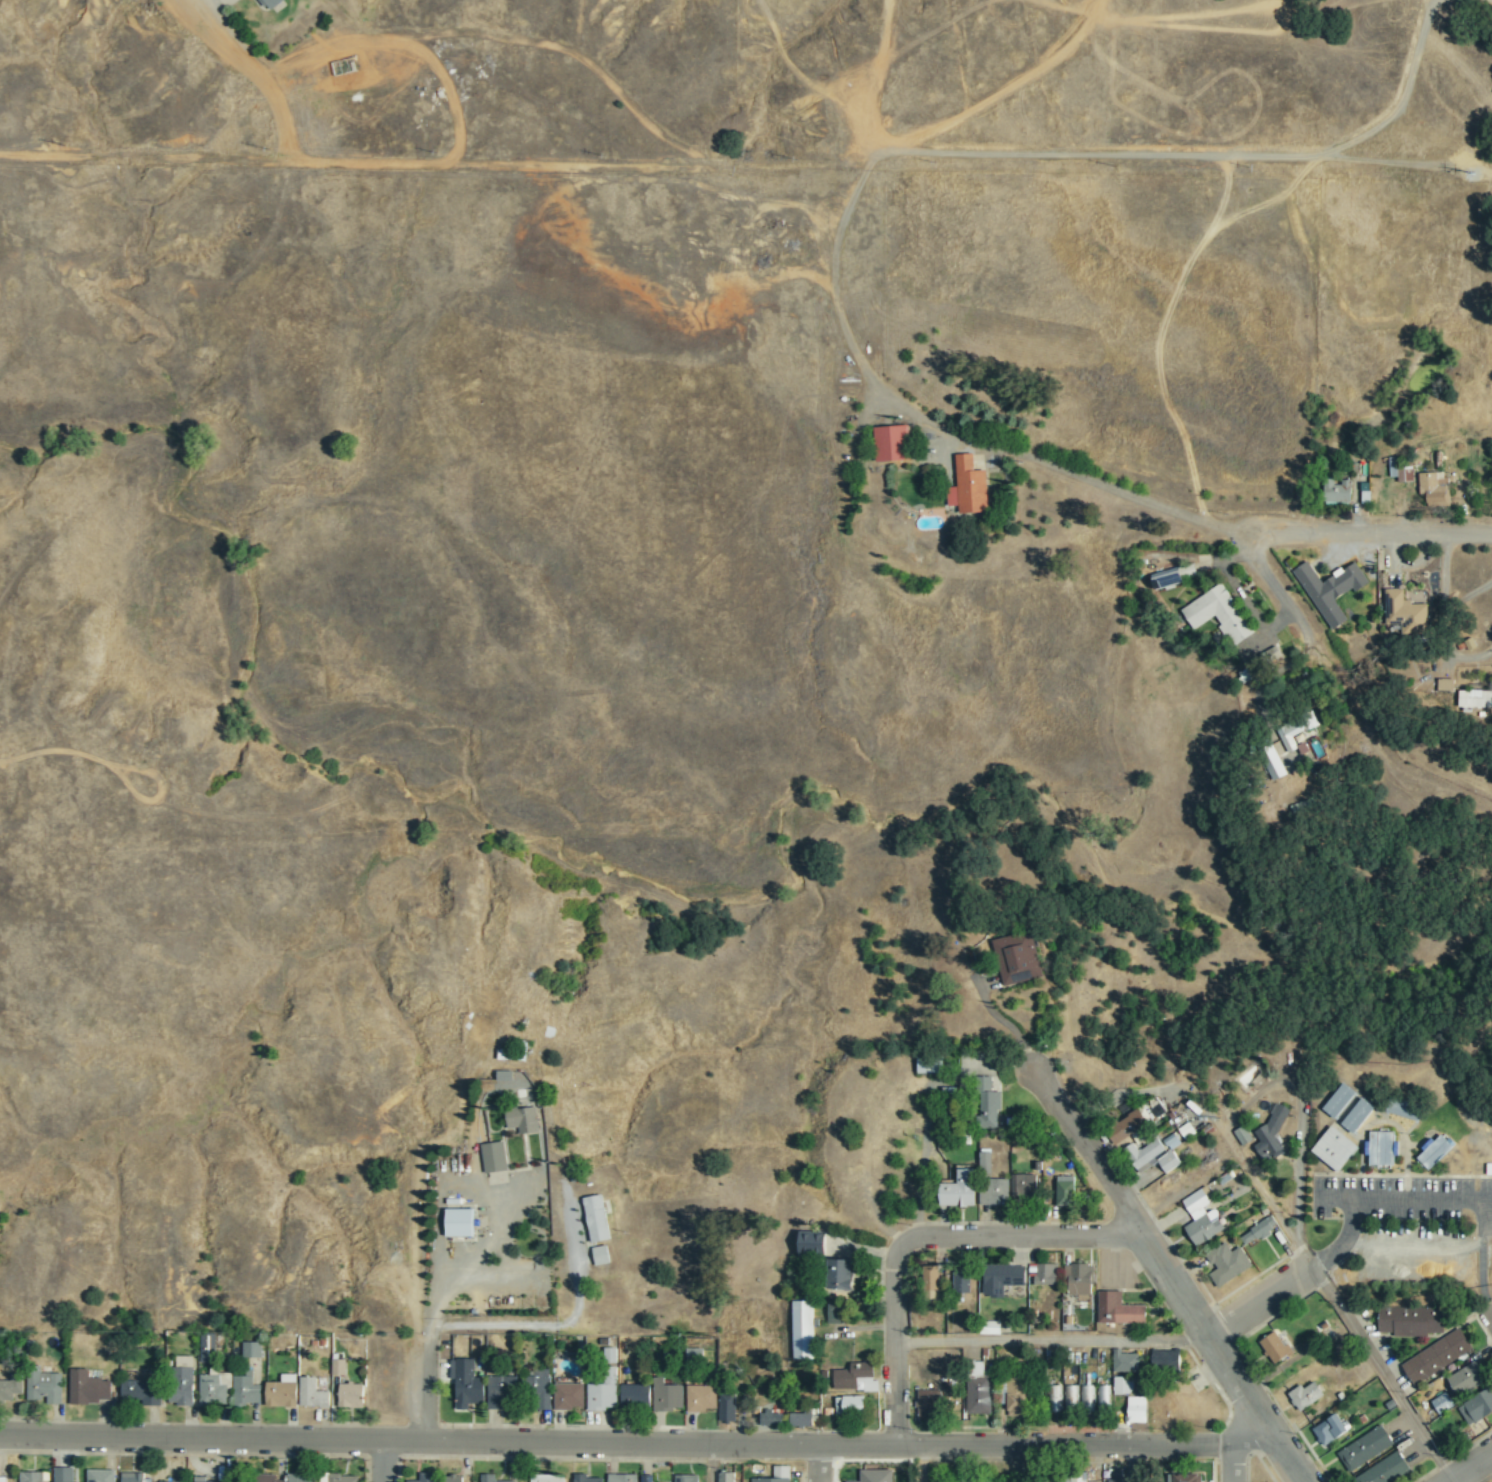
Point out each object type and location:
building: (268, 4)
building: (891, 443)
building: (1400, 470)
building: (968, 487)
building: (1433, 487)
building: (1339, 493)
road: (1367, 536)
building: (1167, 578)
building: (1331, 590)
building: (1406, 612)
building: (1218, 613)
road: (1301, 624)
building: (1445, 685)
building: (1475, 698)
building: (1290, 736)
building: (1272, 763)
building: (1017, 958)
building: (929, 1065)
road: (1254, 1098)
building: (1339, 1100)
building: (988, 1104)
building: (1406, 1110)
building: (1358, 1116)
building: (523, 1120)
building: (1126, 1126)
building: (1271, 1133)
building: (1243, 1136)
building: (1382, 1148)
building: (1334, 1149)
building: (1435, 1151)
building: (1155, 1154)
building: (494, 1157)
building: (985, 1161)
building: (1024, 1185)
building: (960, 1190)
building: (1065, 1191)
building: (995, 1192)
road: (1338, 1199)
road: (1369, 1199)
building: (1202, 1217)
building: (597, 1219)
building: (460, 1223)
building: (1257, 1232)
road: (922, 1237)
building: (812, 1244)
building: (601, 1255)
building: (1227, 1264)
building: (1047, 1275)
road: (1170, 1275)
building: (842, 1276)
building: (1080, 1280)
building: (930, 1281)
building: (1001, 1281)
building: (962, 1282)
road: (1259, 1304)
building: (1119, 1310)
road: (1491, 1311)
building: (835, 1314)
building: (1410, 1321)
building: (803, 1330)
road: (1051, 1342)
building: (207, 1348)
road: (426, 1348)
building: (1275, 1348)
building: (251, 1350)
building: (695, 1353)
building: (609, 1354)
building: (1438, 1356)
building: (1166, 1360)
building: (1125, 1362)
building: (338, 1367)
building: (852, 1375)
road: (1382, 1375)
building: (1466, 1378)
building: (467, 1384)
building: (869, 1385)
building: (1123, 1386)
building: (44, 1387)
building: (183, 1388)
building: (540, 1388)
building: (11, 1389)
building: (87, 1389)
building: (213, 1389)
building: (245, 1390)
building: (604, 1390)
building: (500, 1391)
building: (142, 1392)
building: (312, 1395)
building: (351, 1395)
building: (569, 1395)
building: (980, 1395)
building: (1306, 1395)
building: (281, 1396)
building: (635, 1397)
building: (667, 1397)
building: (1016, 1397)
building: (1085, 1397)
building: (1053, 1398)
building: (1069, 1398)
building: (701, 1399)
building: (1102, 1399)
building: (1442, 1402)
building: (929, 1404)
building: (850, 1405)
building: (727, 1407)
building: (1476, 1407)
building: (1137, 1409)
building: (770, 1419)
building: (801, 1419)
building: (1331, 1429)
road: (639, 1443)
building: (1365, 1448)
road: (382, 1461)
road: (1235, 1462)
road: (712, 1463)
road: (820, 1463)
road: (922, 1463)
road: (1129, 1463)
road: (1025, 1464)
building: (1385, 1469)
road: (1473, 1469)
building: (776, 1475)
building: (876, 1475)
building: (1117, 1475)
building: (64, 1476)
building: (100, 1477)
building: (726, 1477)
building: (1188, 1477)
building: (31, 1478)
building: (267, 1478)
building: (302, 1478)
building: (341, 1478)
building: (427, 1478)
building: (452, 1478)
building: (547, 1478)
building: (585, 1478)
building: (622, 1478)
building: (646, 1478)
building: (686, 1478)
building: (3, 1479)
building: (132, 1479)
building: (202, 1479)
building: (487, 1479)
building: (1072, 1479)
building: (970, 1481)

